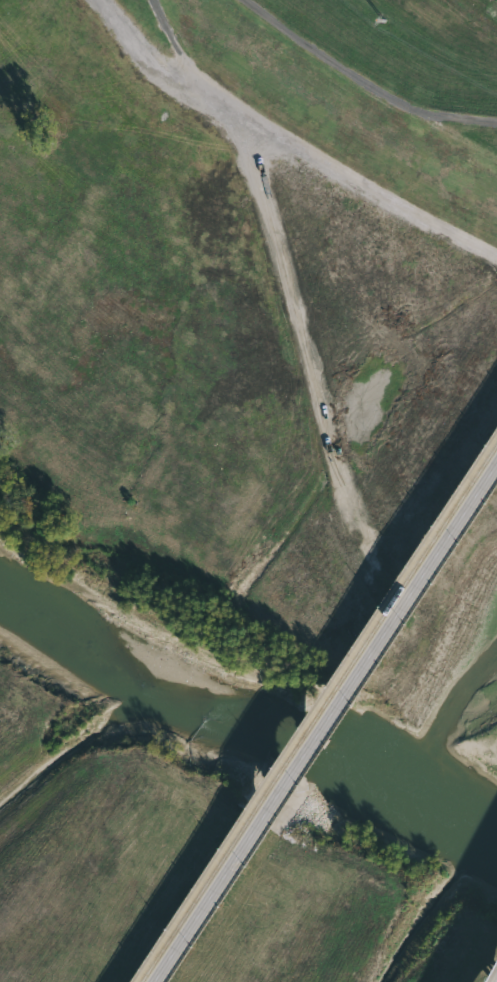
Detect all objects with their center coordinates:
power tower: (387, 21)
road: (331, 61)
road: (460, 121)
road: (291, 142)
road: (281, 232)
park: (248, 491)
river: (242, 699)
railway: (319, 713)
road: (325, 720)

